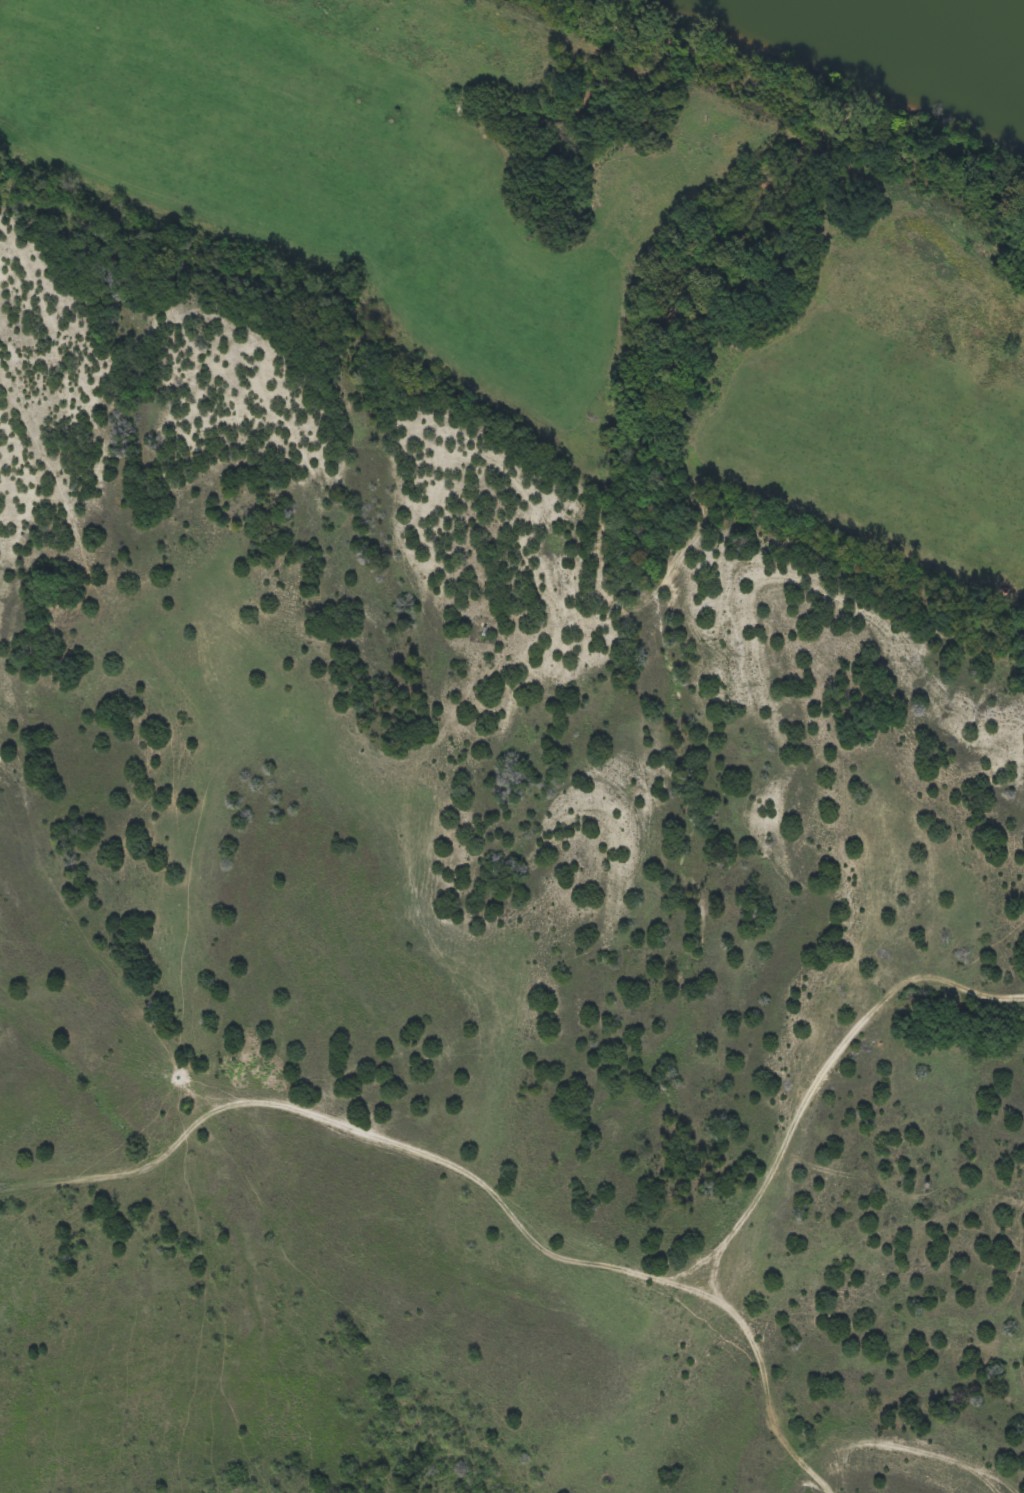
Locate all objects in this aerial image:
river: (970, 21)
road: (818, 1073)
road: (472, 1178)

